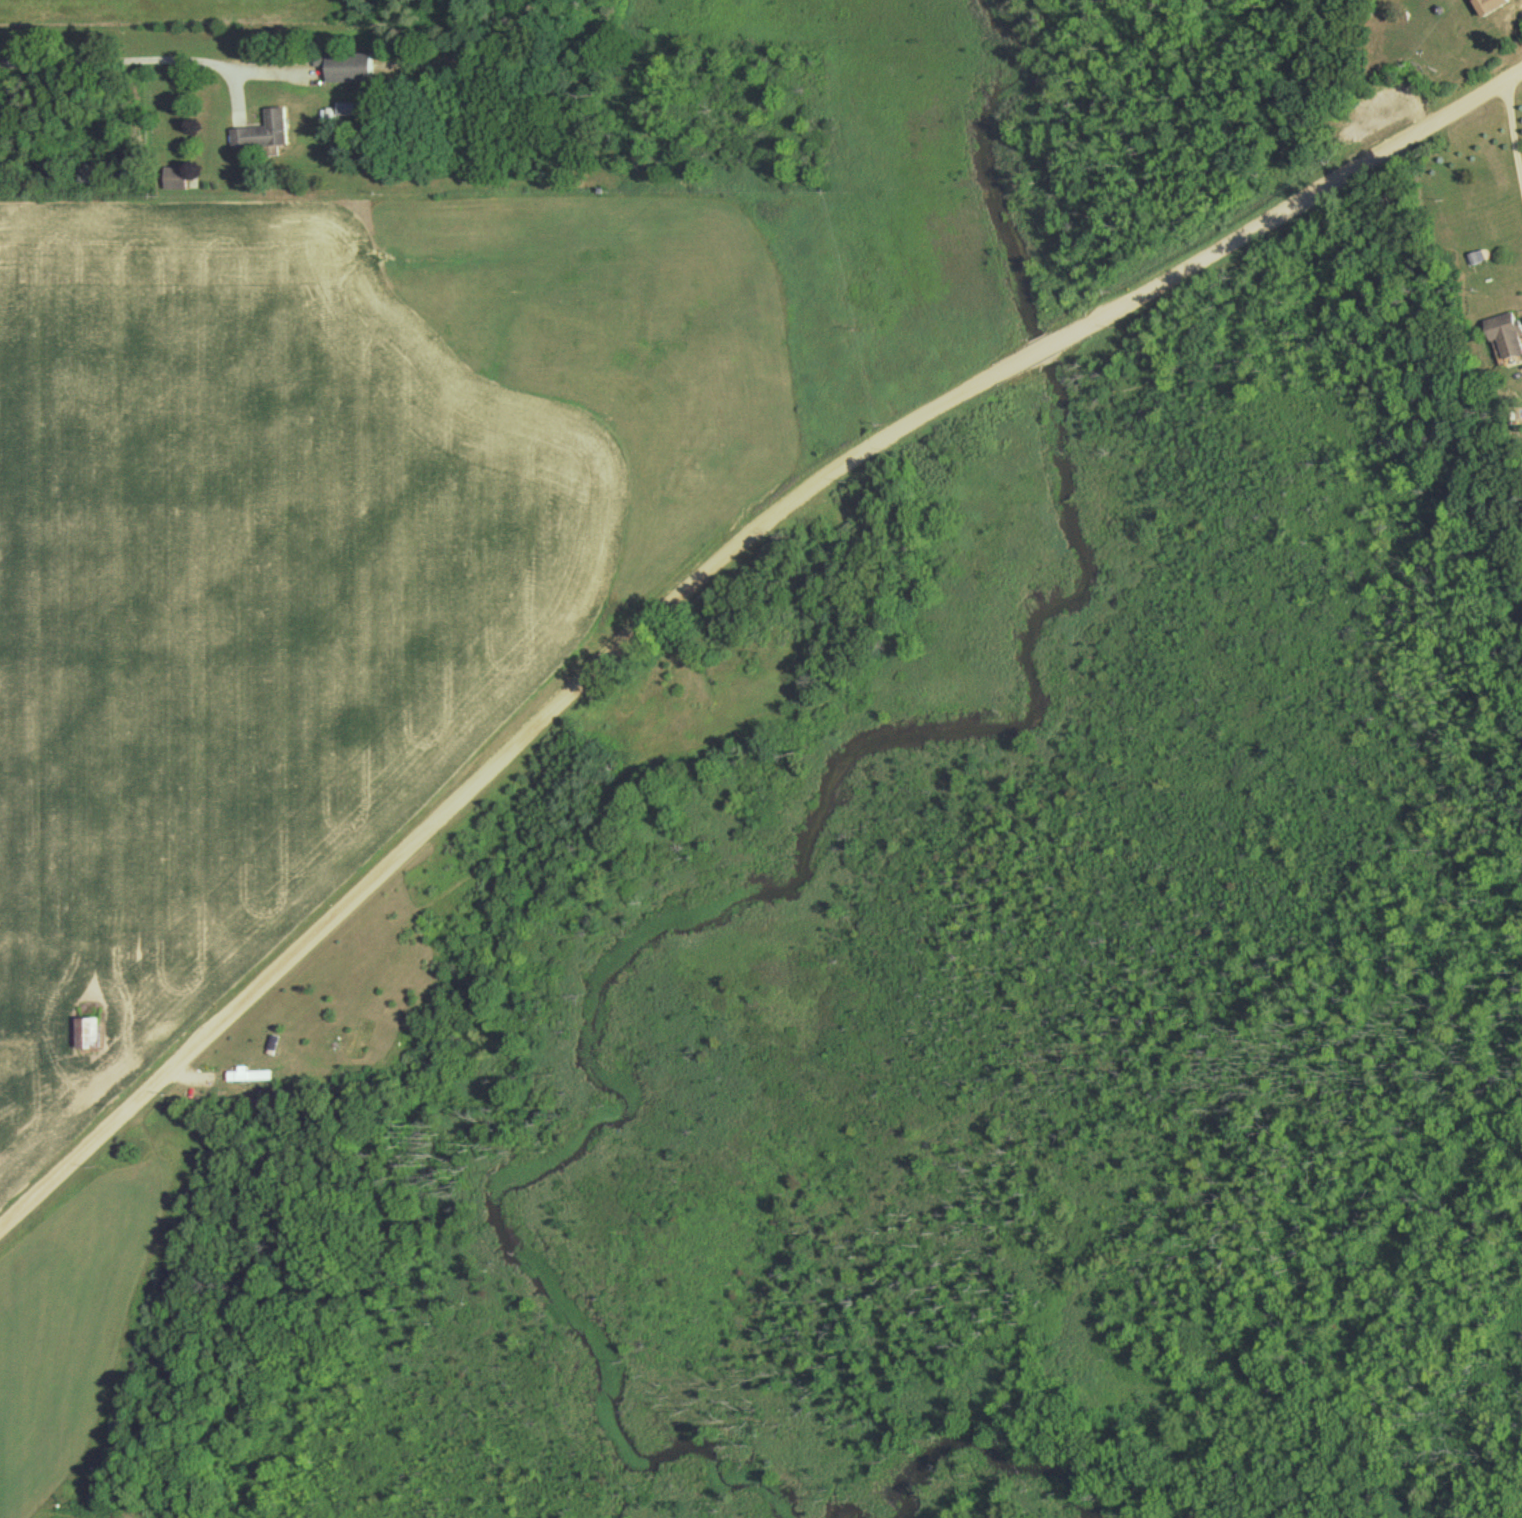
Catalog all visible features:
building: (1488, 7)
building: (344, 69)
building: (262, 134)
building: (173, 179)
building: (1505, 338)
road: (706, 570)
building: (86, 1036)
building: (248, 1078)

